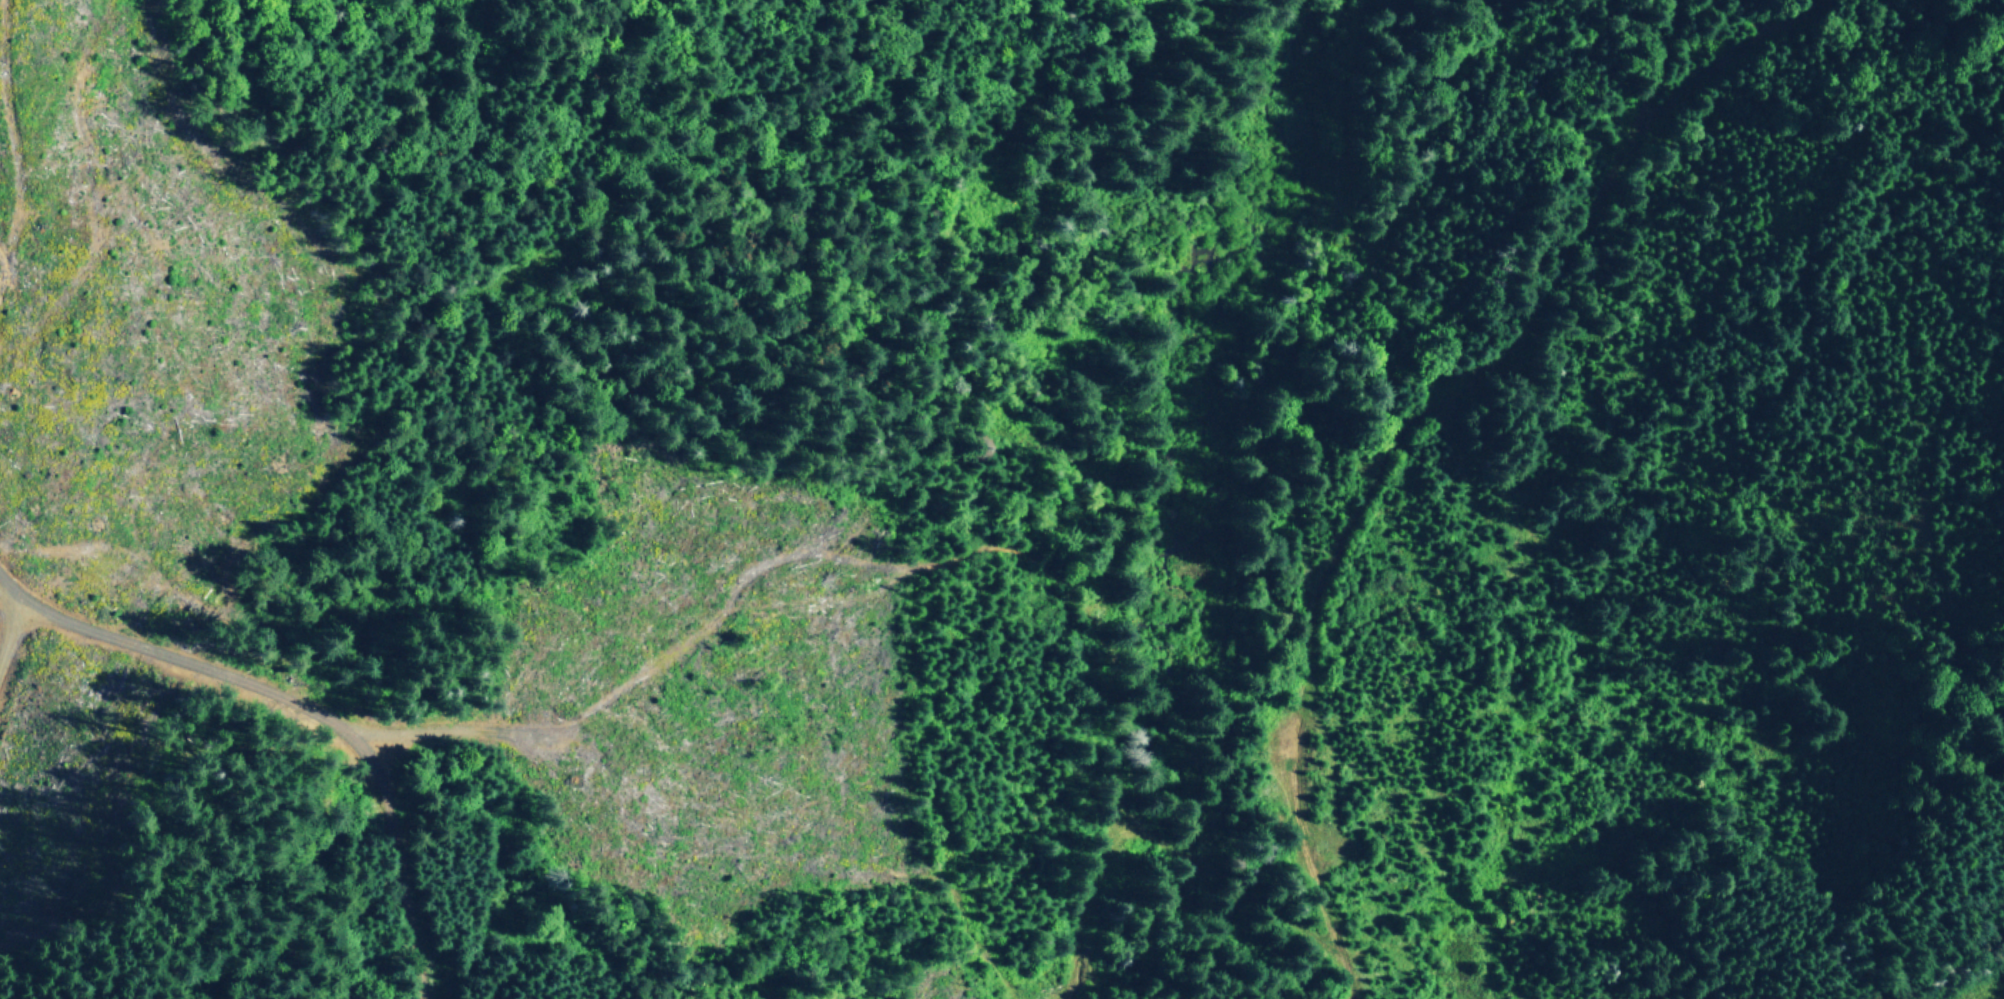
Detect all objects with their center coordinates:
road: (1660, 66)
road: (1409, 427)

